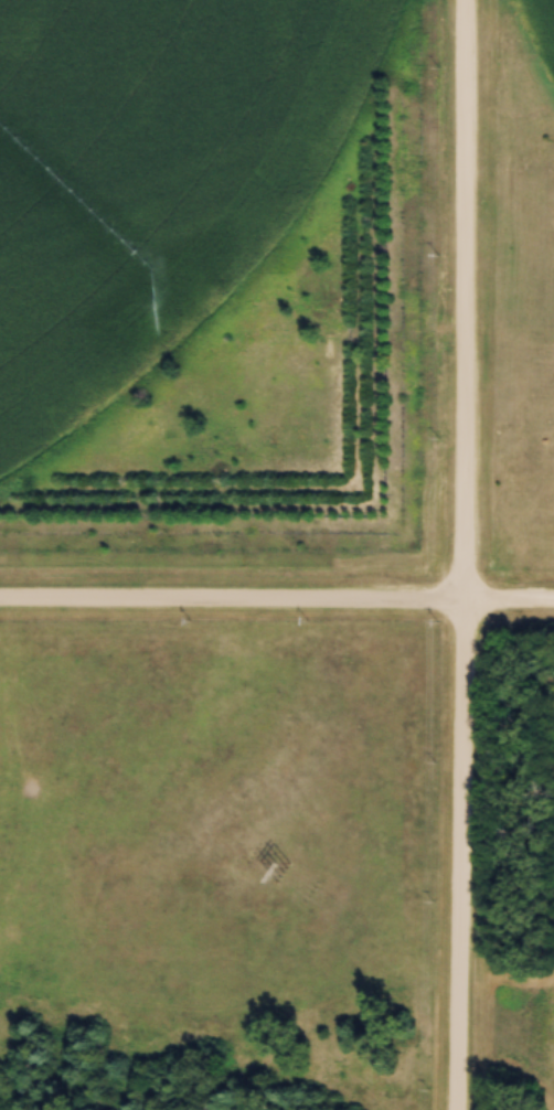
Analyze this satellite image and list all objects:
road: (464, 555)
road: (276, 601)
power tower: (281, 874)

